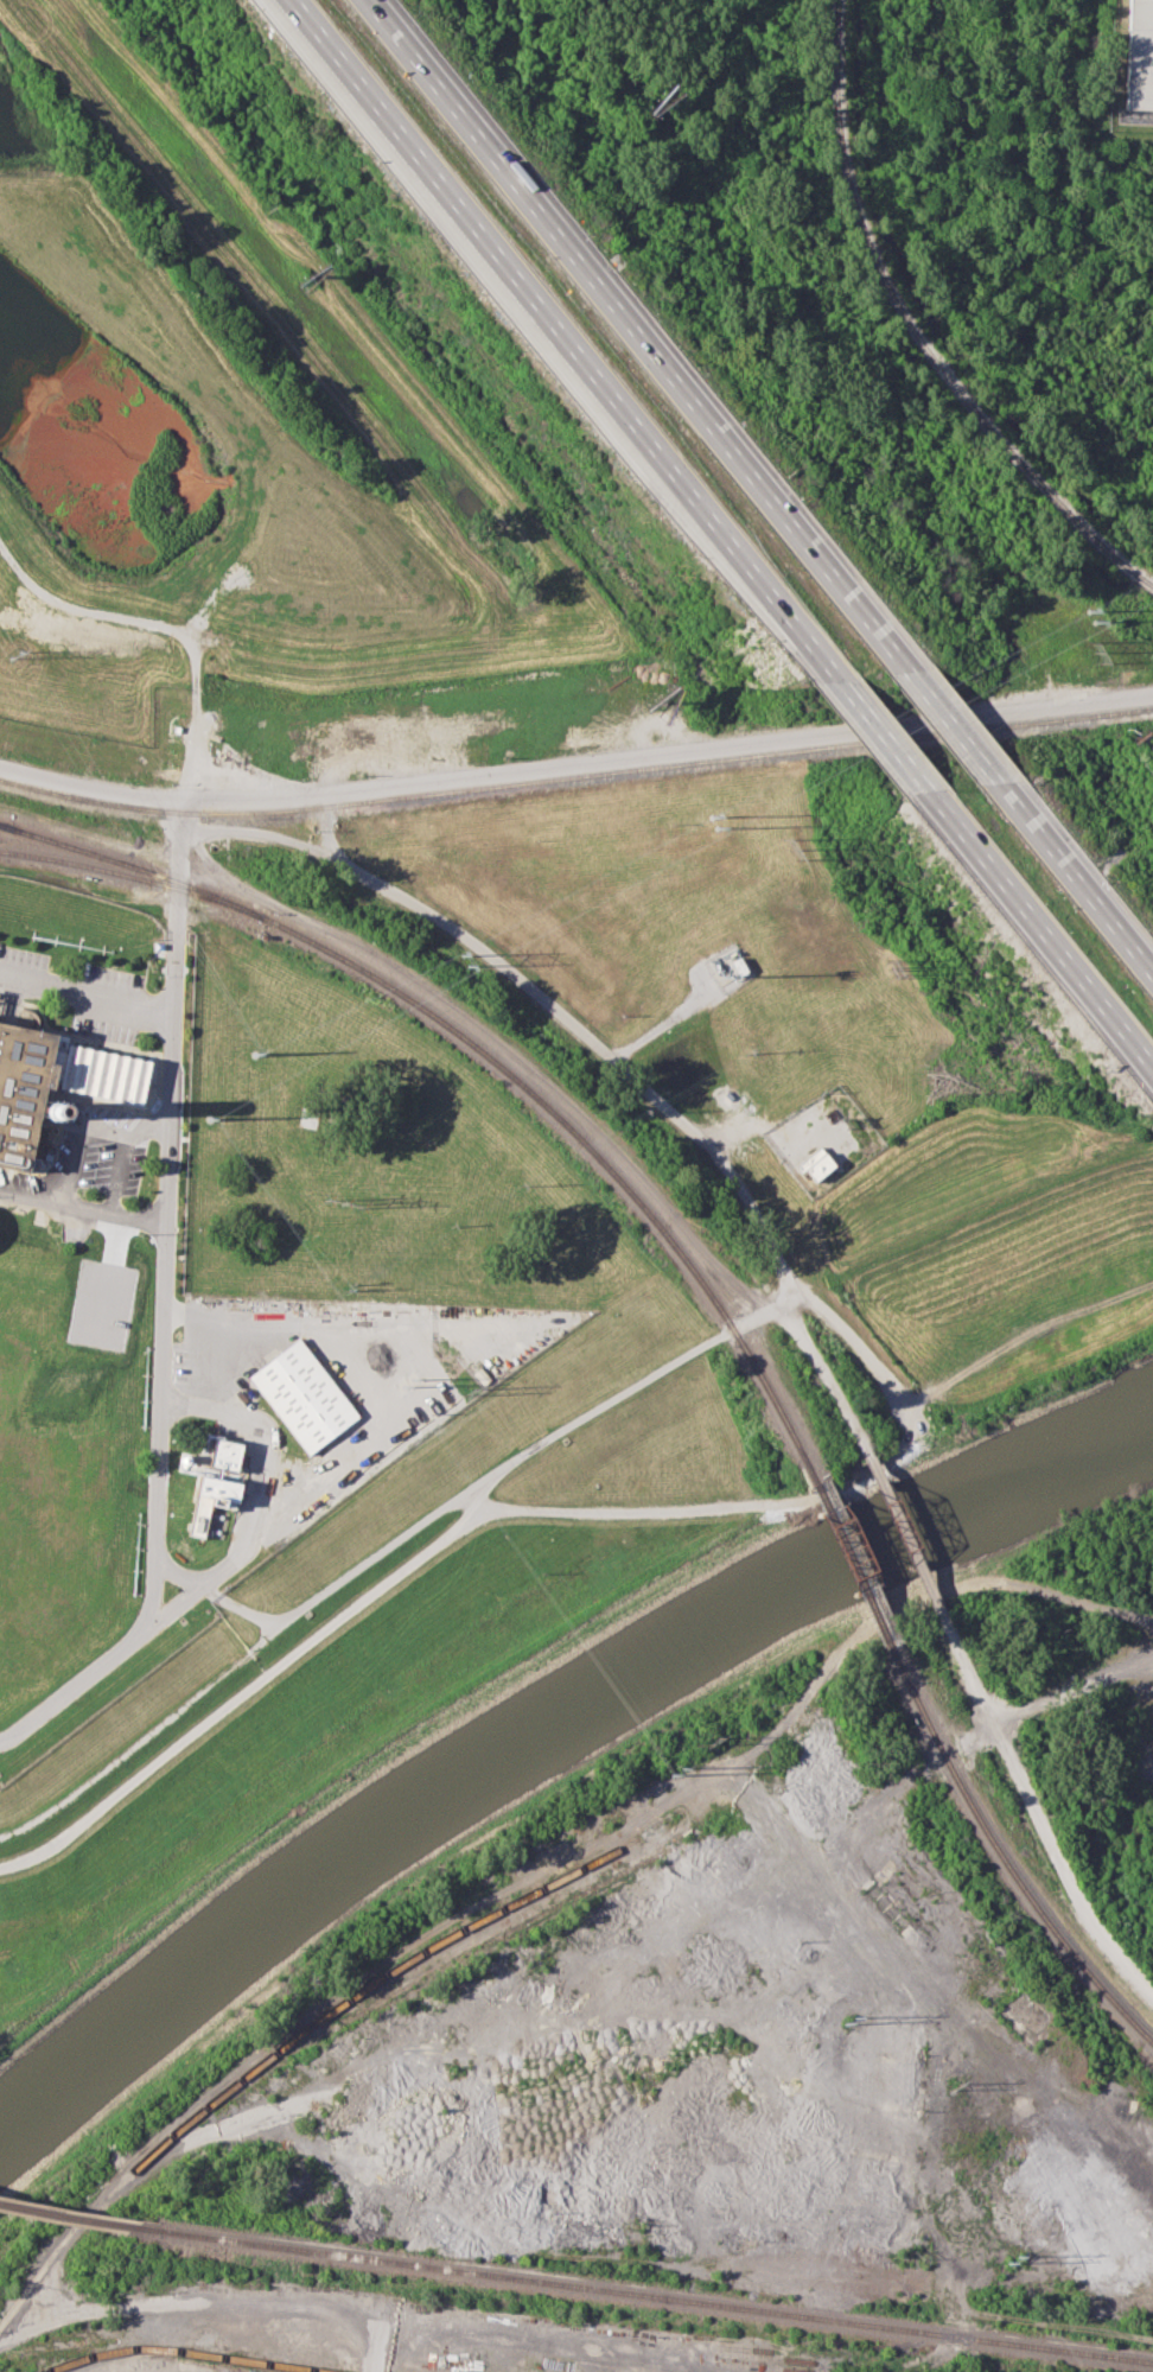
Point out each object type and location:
railway: (836, 8)
building: (1139, 55)
road: (628, 329)
railway: (915, 331)
road: (556, 332)
power tower: (1091, 611)
power tower: (1094, 622)
power tower: (14, 654)
power tower: (1097, 659)
road: (939, 718)
road: (873, 725)
crop: (1144, 736)
road: (575, 763)
railway: (575, 775)
power tower: (713, 821)
road: (326, 826)
power tower: (721, 828)
power tower: (790, 852)
railway: (133, 877)
road: (1071, 878)
railway: (278, 912)
road: (1038, 927)
power tower: (463, 958)
road: (88, 991)
road: (540, 994)
power tower: (253, 1054)
railway: (489, 1055)
building: (106, 1071)
building: (23, 1087)
road: (172, 1099)
power tower: (211, 1119)
building: (815, 1163)
power tower: (337, 1201)
road: (218, 1318)
wastewater plant: (161, 1336)
power tower: (409, 1382)
road: (830, 1382)
power tower: (466, 1391)
building: (305, 1395)
road: (157, 1424)
building: (228, 1456)
road: (523, 1456)
road: (250, 1492)
road: (804, 1499)
building: (216, 1509)
road: (912, 1541)
railway: (860, 1571)
road: (178, 1572)
road: (235, 1660)
road: (75, 1681)
road: (1058, 1697)
river: (539, 1724)
power tower: (711, 1740)
power tower: (679, 1772)
road: (1038, 1815)
railway: (1007, 1863)
railway: (454, 1958)
road: (442, 2020)
power tower: (852, 2020)
railway: (304, 2033)
power tower: (954, 2085)
railway: (70, 2217)
power tower: (1012, 2259)
railway: (646, 2295)
road: (376, 2345)
railway: (185, 2351)

